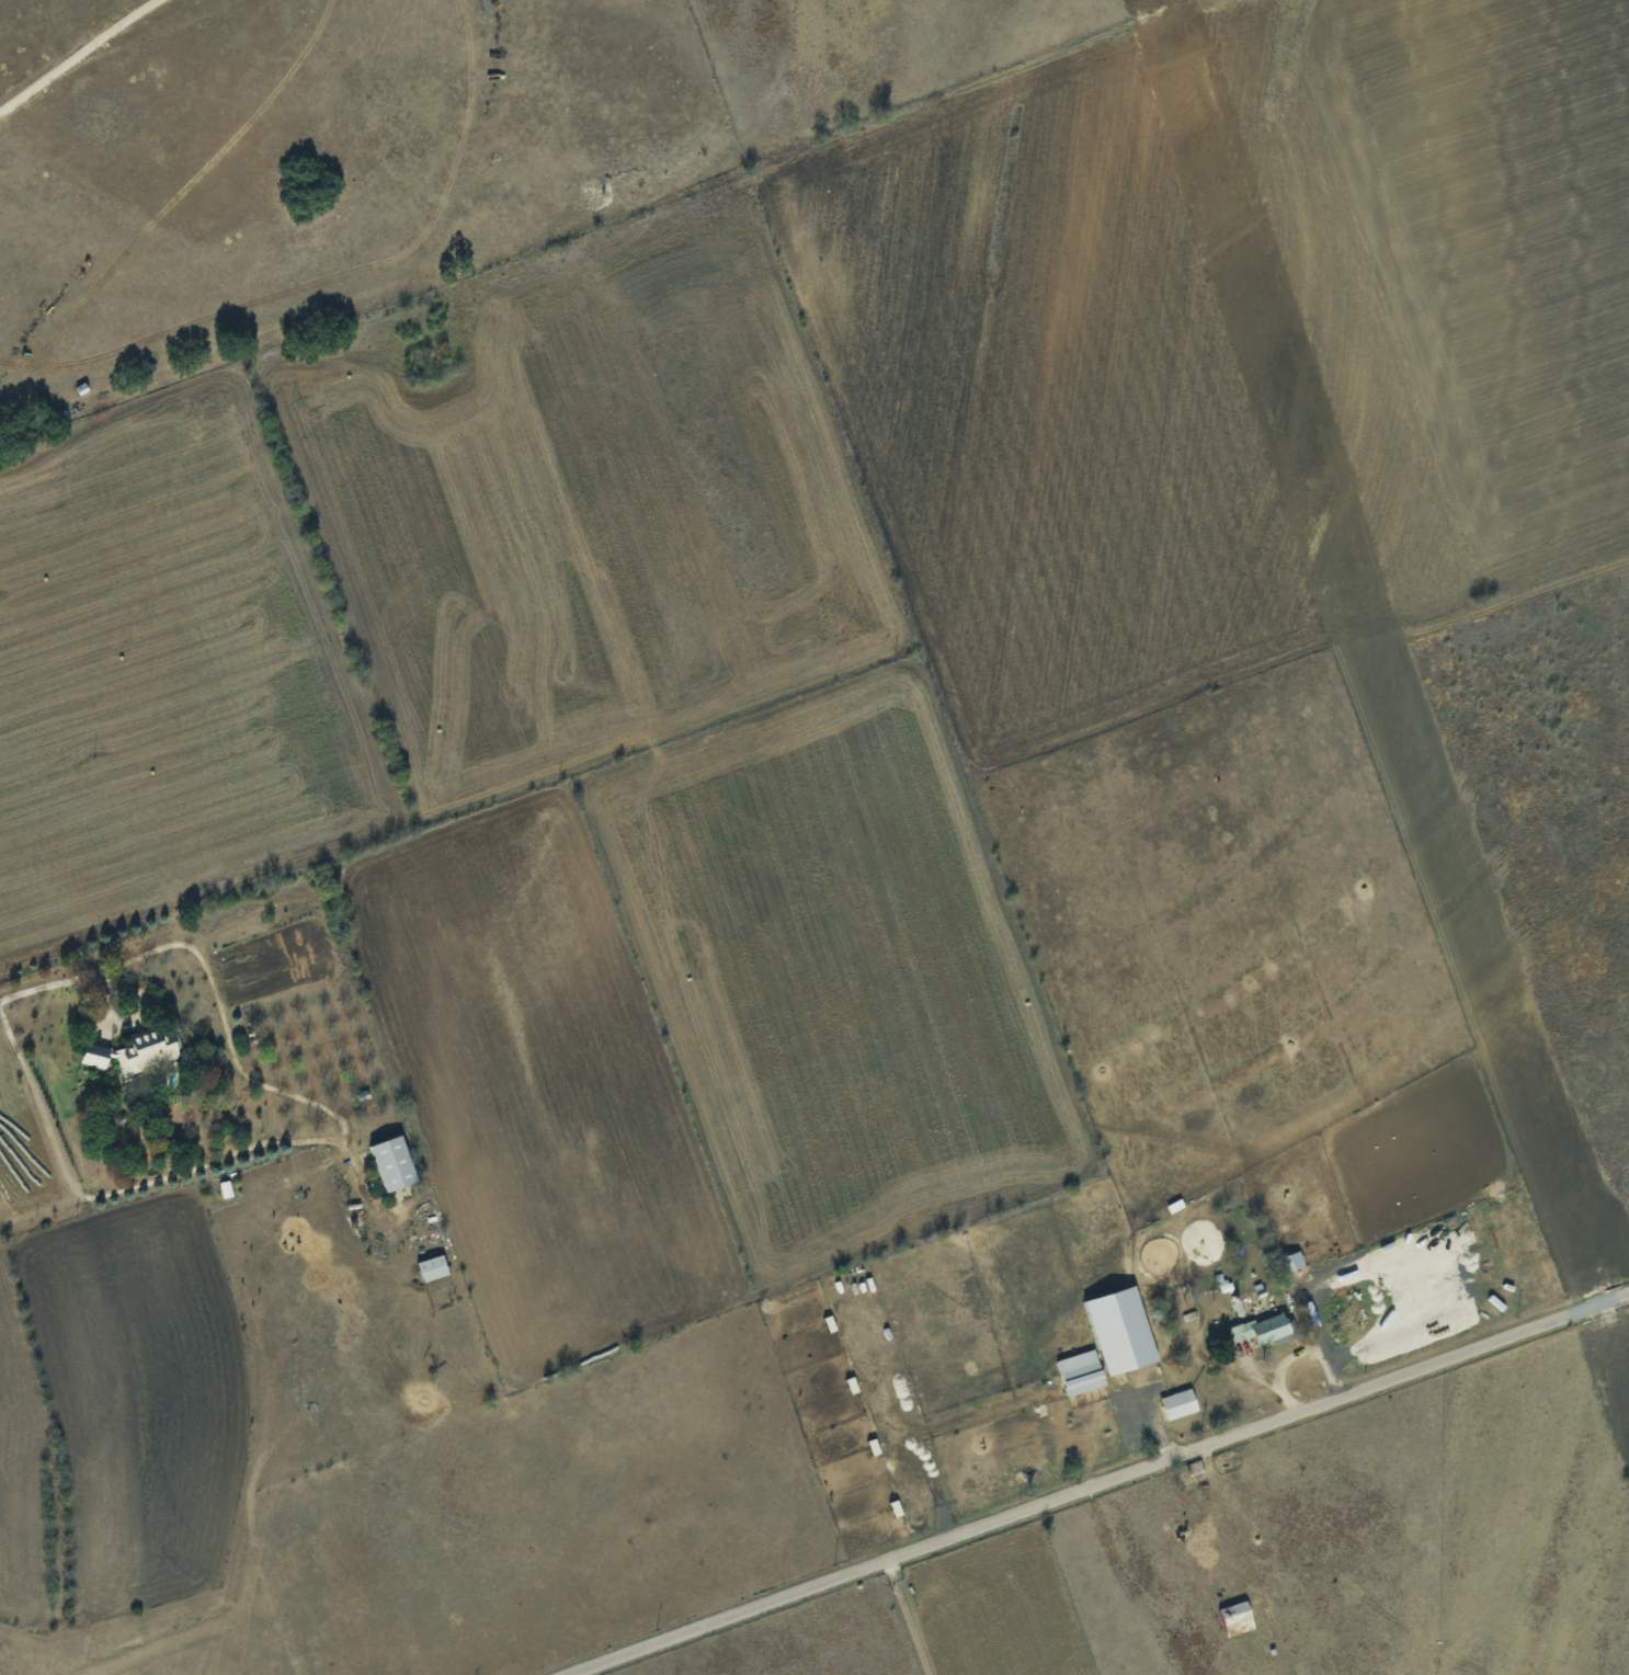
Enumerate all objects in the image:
road: (88, 57)
road: (65, 981)
road: (228, 1038)
building: (135, 1052)
building: (395, 1163)
road: (118, 1190)
building: (1290, 1262)
building: (433, 1267)
building: (1123, 1331)
building: (1082, 1372)
building: (1180, 1404)
road: (1097, 1483)
road: (891, 1572)
building: (1238, 1618)
road: (912, 1629)

